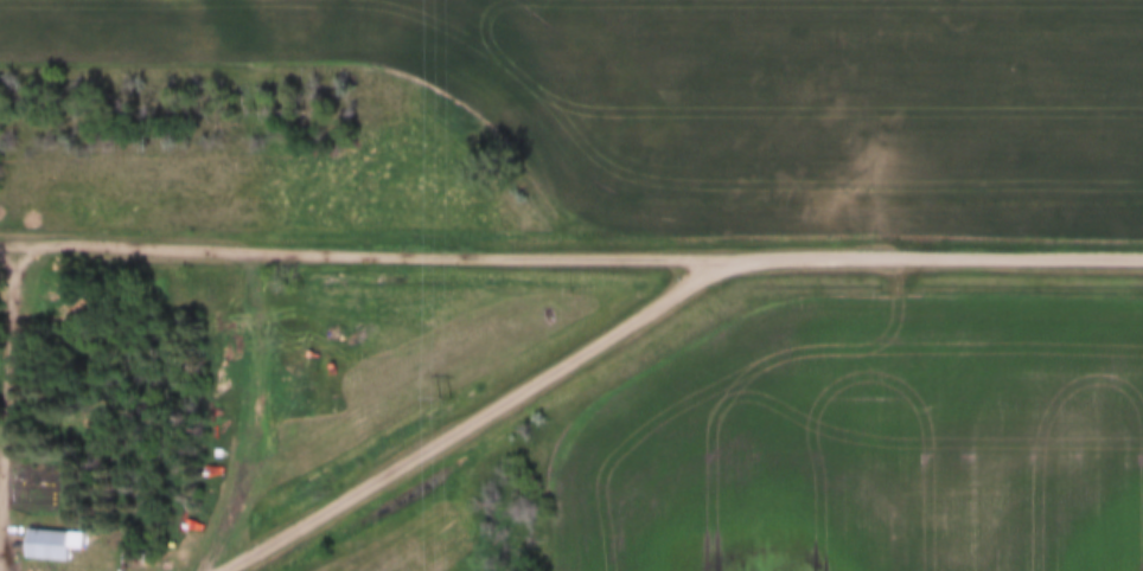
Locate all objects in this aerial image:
road: (364, 250)
road: (934, 257)
power tower: (443, 397)
road: (12, 404)
road: (470, 421)
building: (52, 544)
building: (132, 553)

